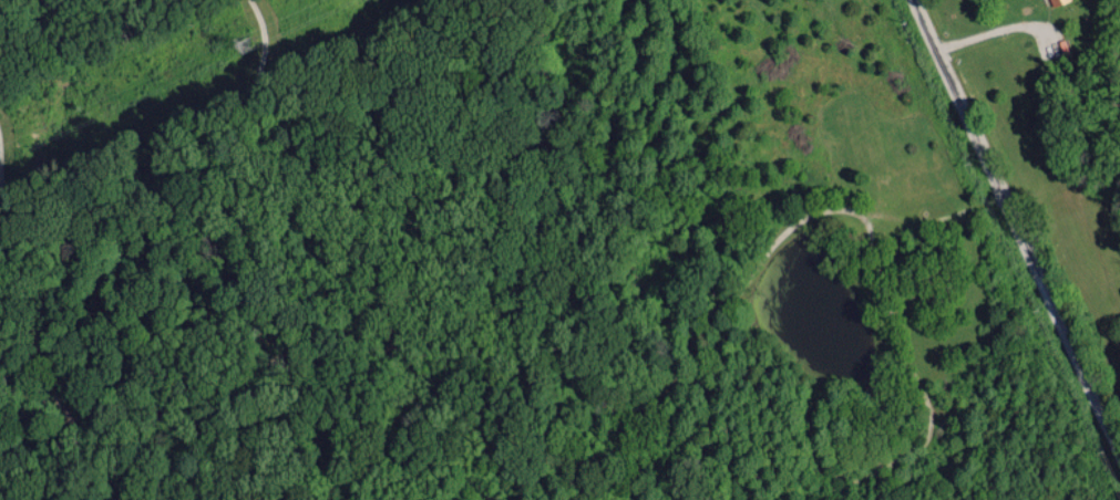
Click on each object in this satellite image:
building: (1056, 1)
road: (1018, 223)

